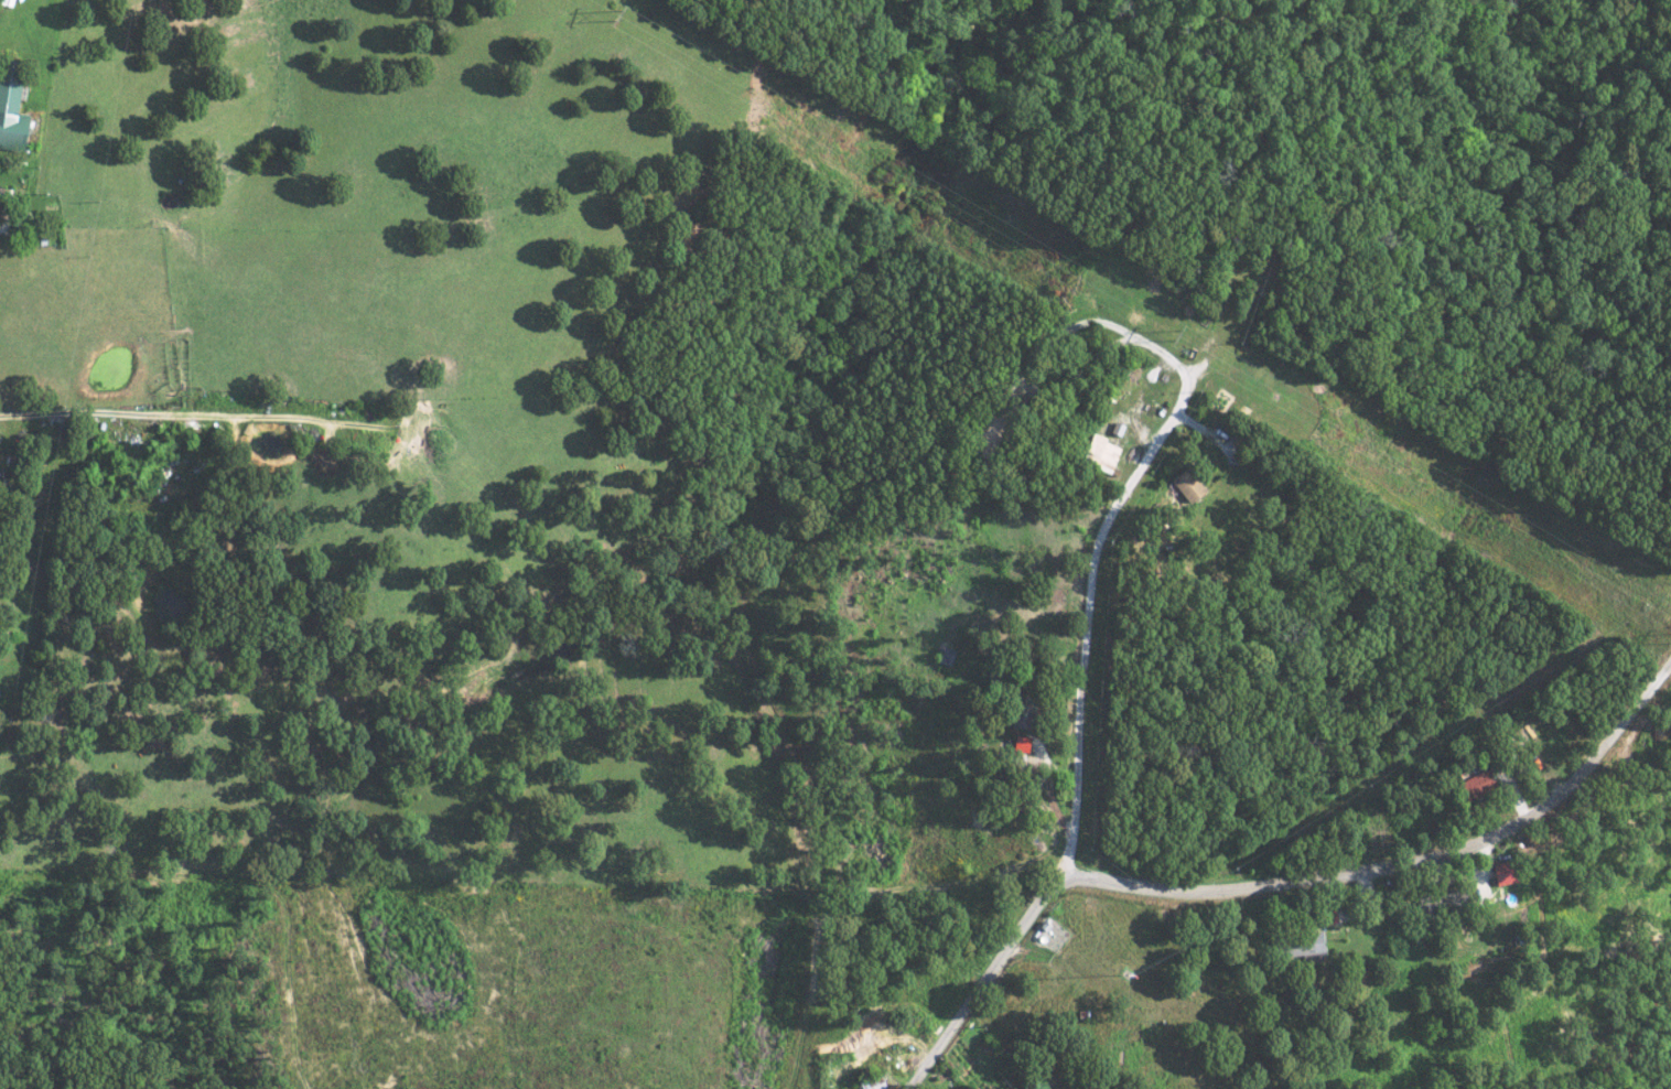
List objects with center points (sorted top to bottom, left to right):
power tower: (612, 15)
building: (8, 118)
power tower: (1173, 338)
road: (192, 414)
building: (1096, 454)
building: (1182, 485)
road: (1088, 614)
building: (1018, 712)
building: (1470, 786)
building: (1500, 873)
road: (1275, 883)
building: (1440, 902)
building: (1293, 946)
road: (208, 1020)
building: (865, 1079)

